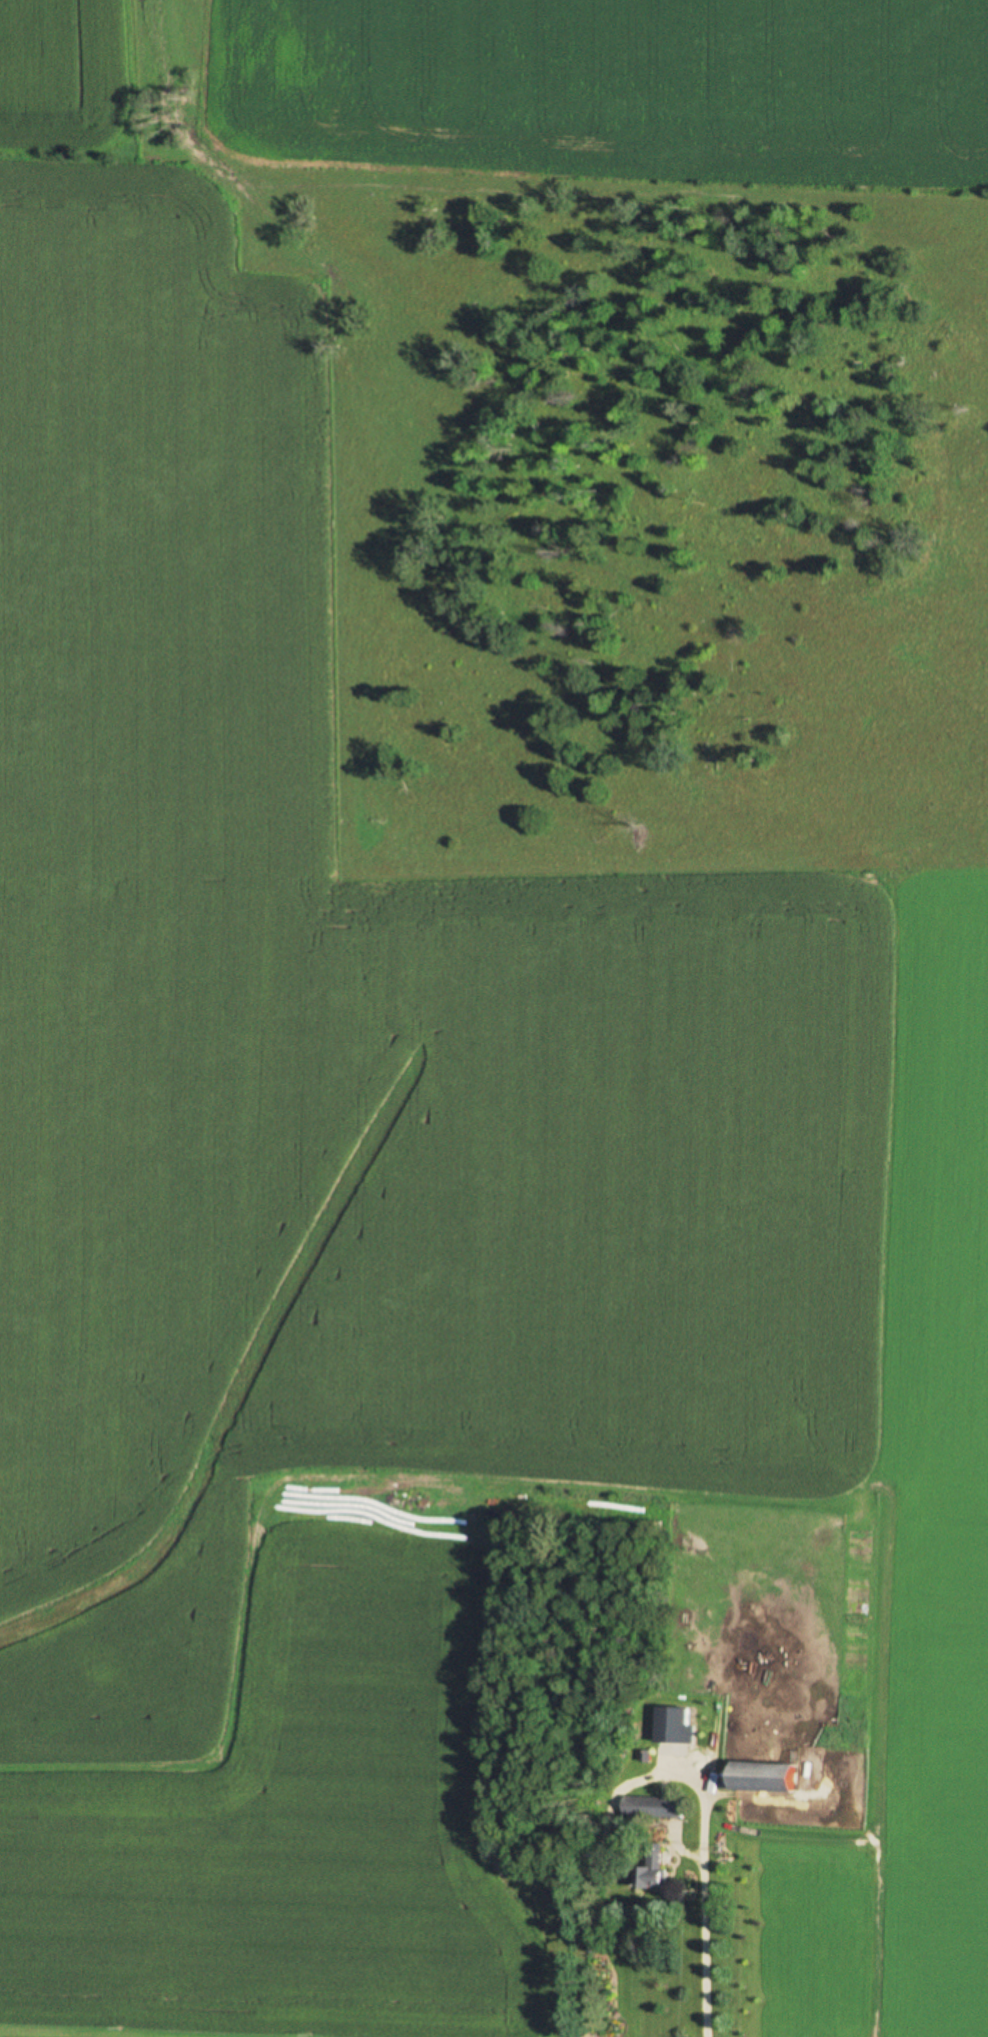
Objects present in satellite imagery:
building: (760, 1777)
building: (651, 1807)
building: (650, 1870)

